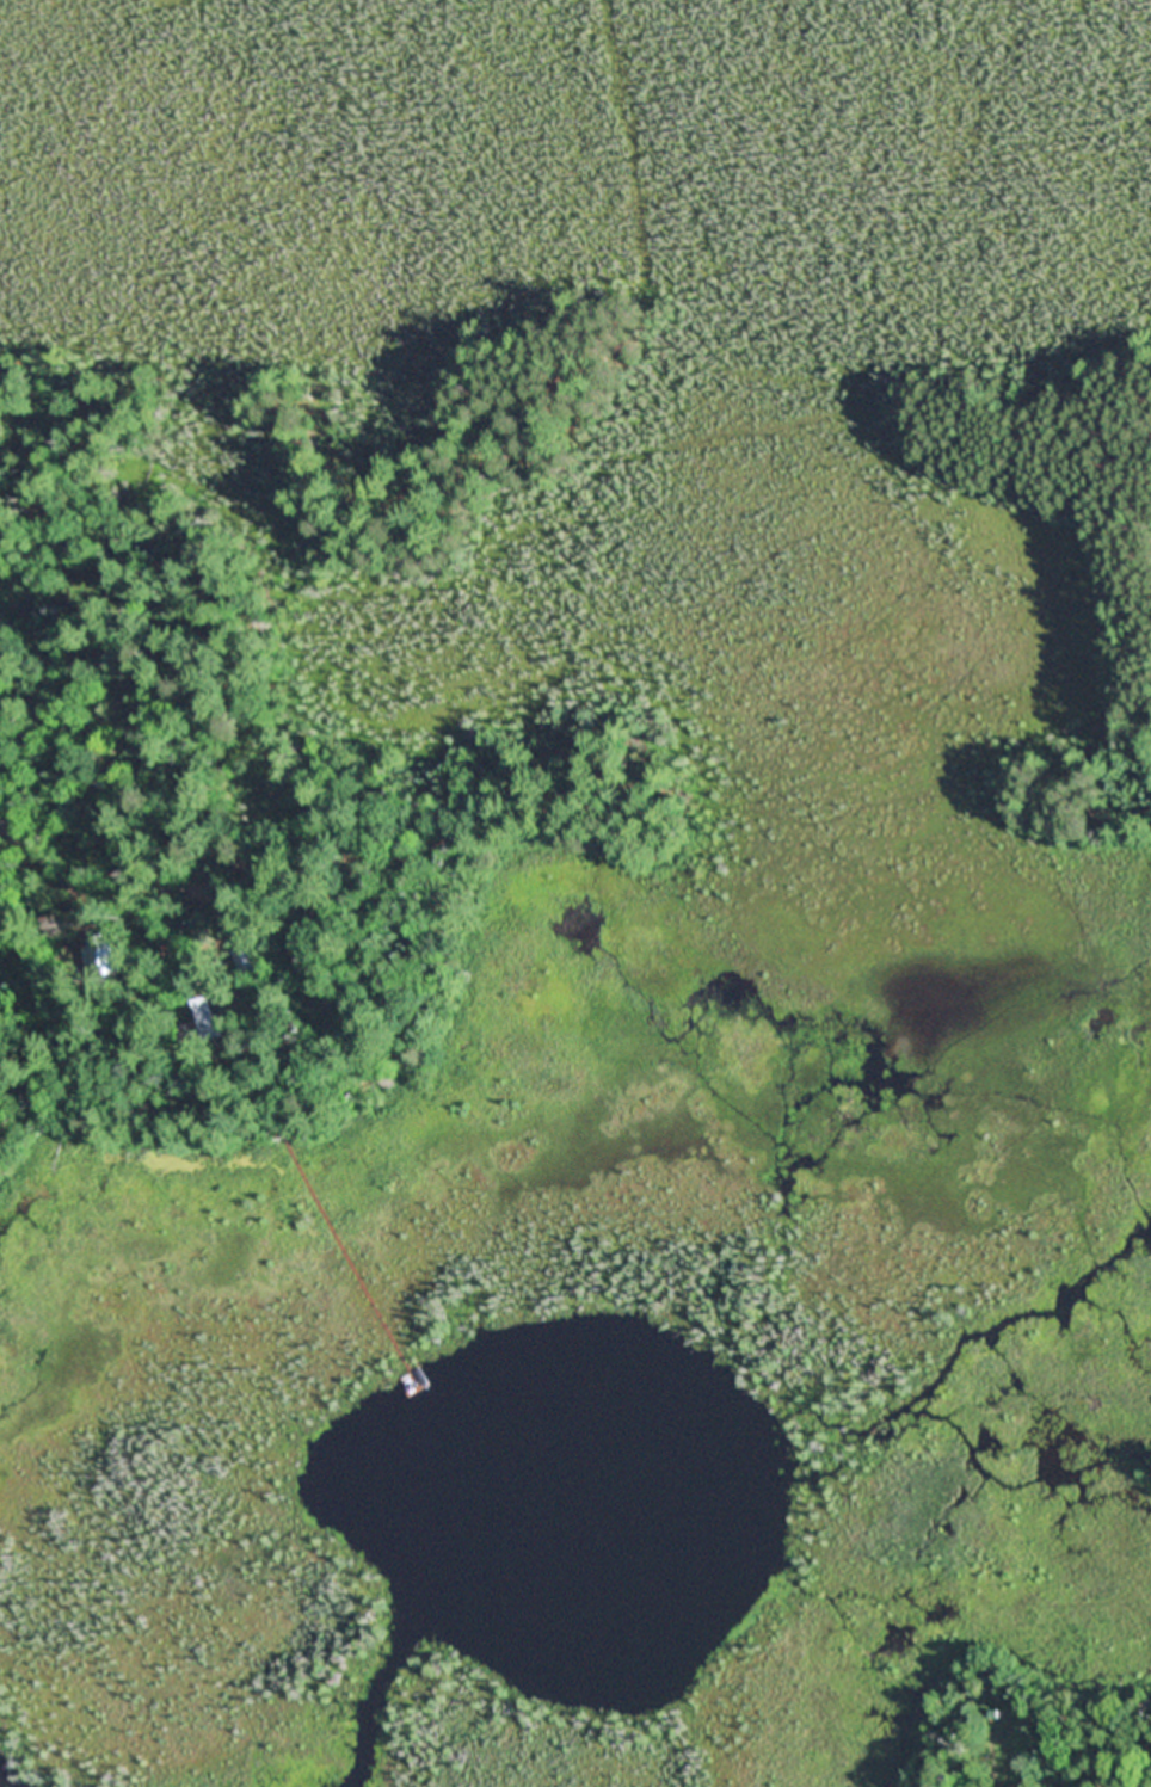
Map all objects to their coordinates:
road: (72, 911)
building: (248, 956)
building: (233, 984)
building: (205, 1023)

